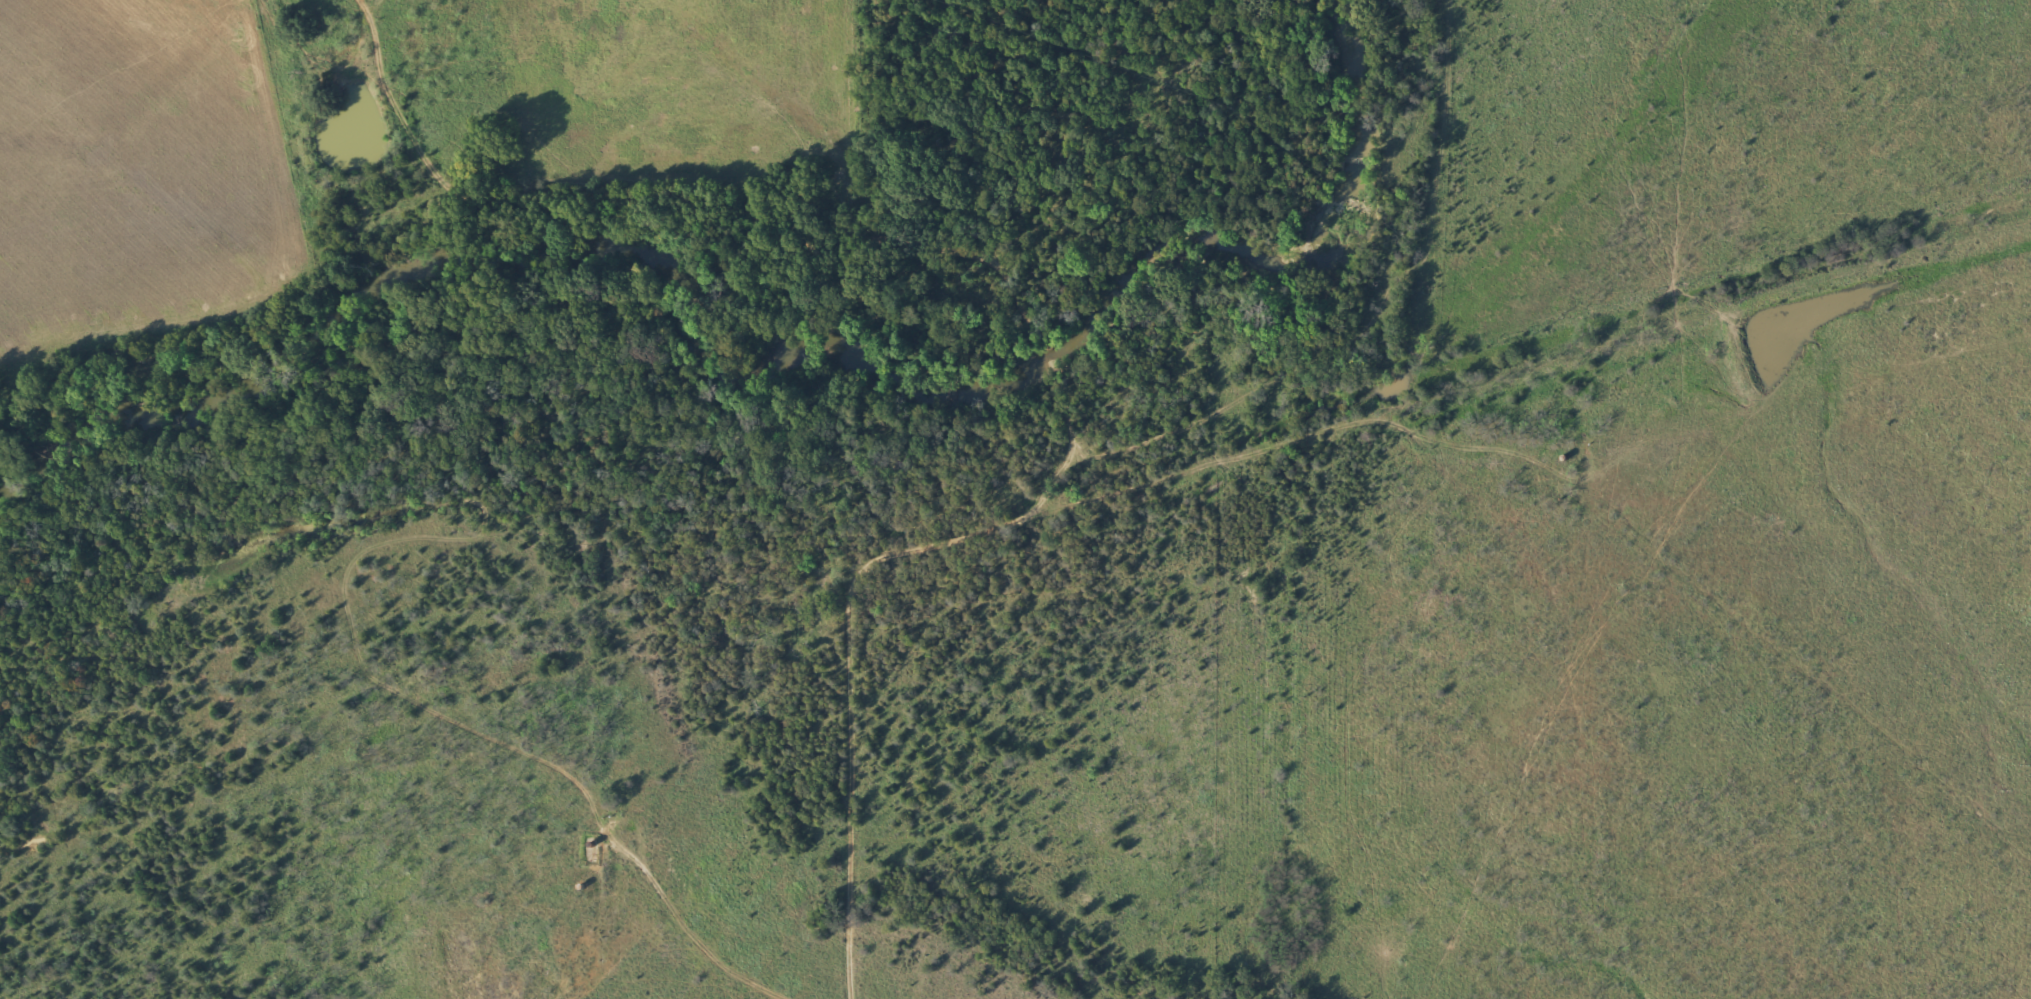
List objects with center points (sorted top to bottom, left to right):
road: (739, 216)
road: (994, 523)
railway: (1015, 524)

